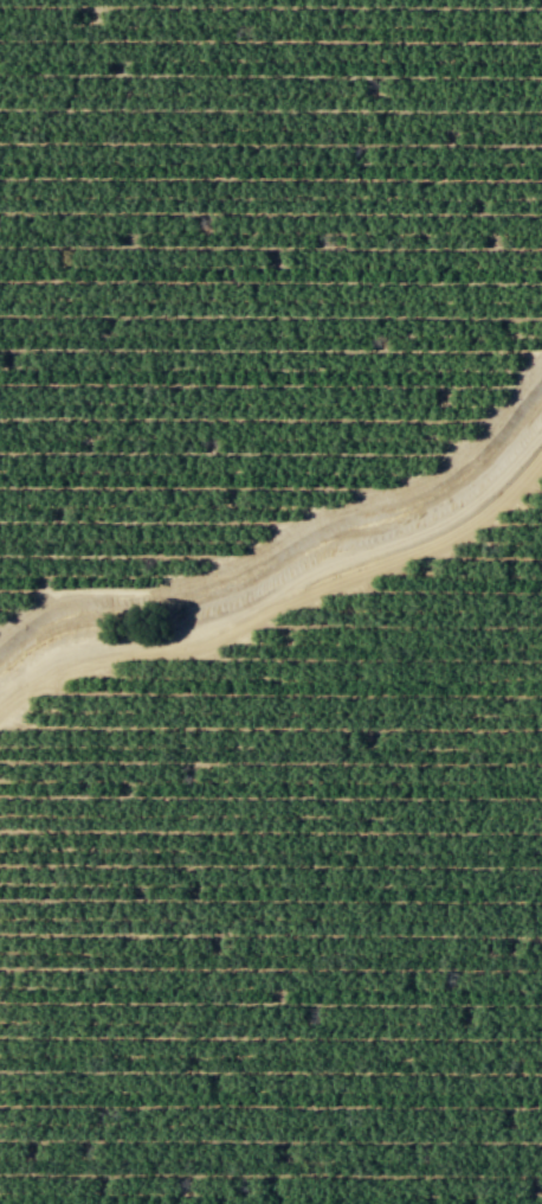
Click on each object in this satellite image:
road: (288, 533)
road: (283, 591)

